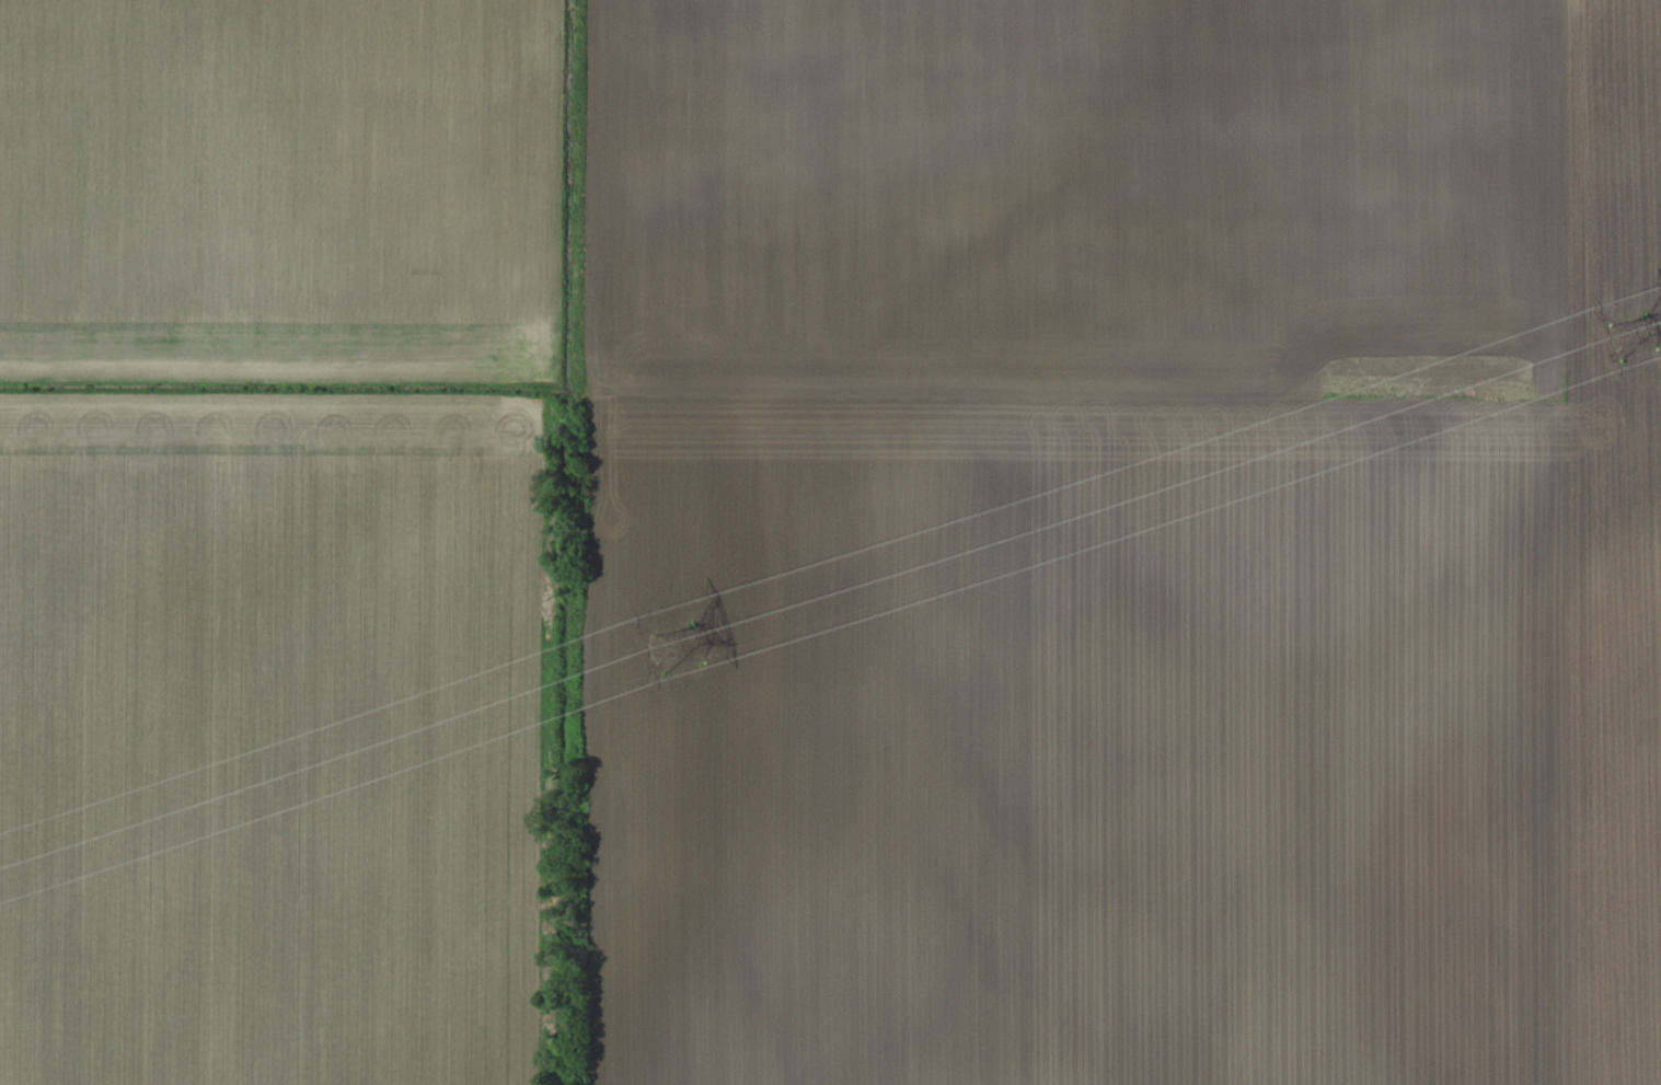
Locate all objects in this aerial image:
power tower: (1643, 325)
power tower: (680, 645)

